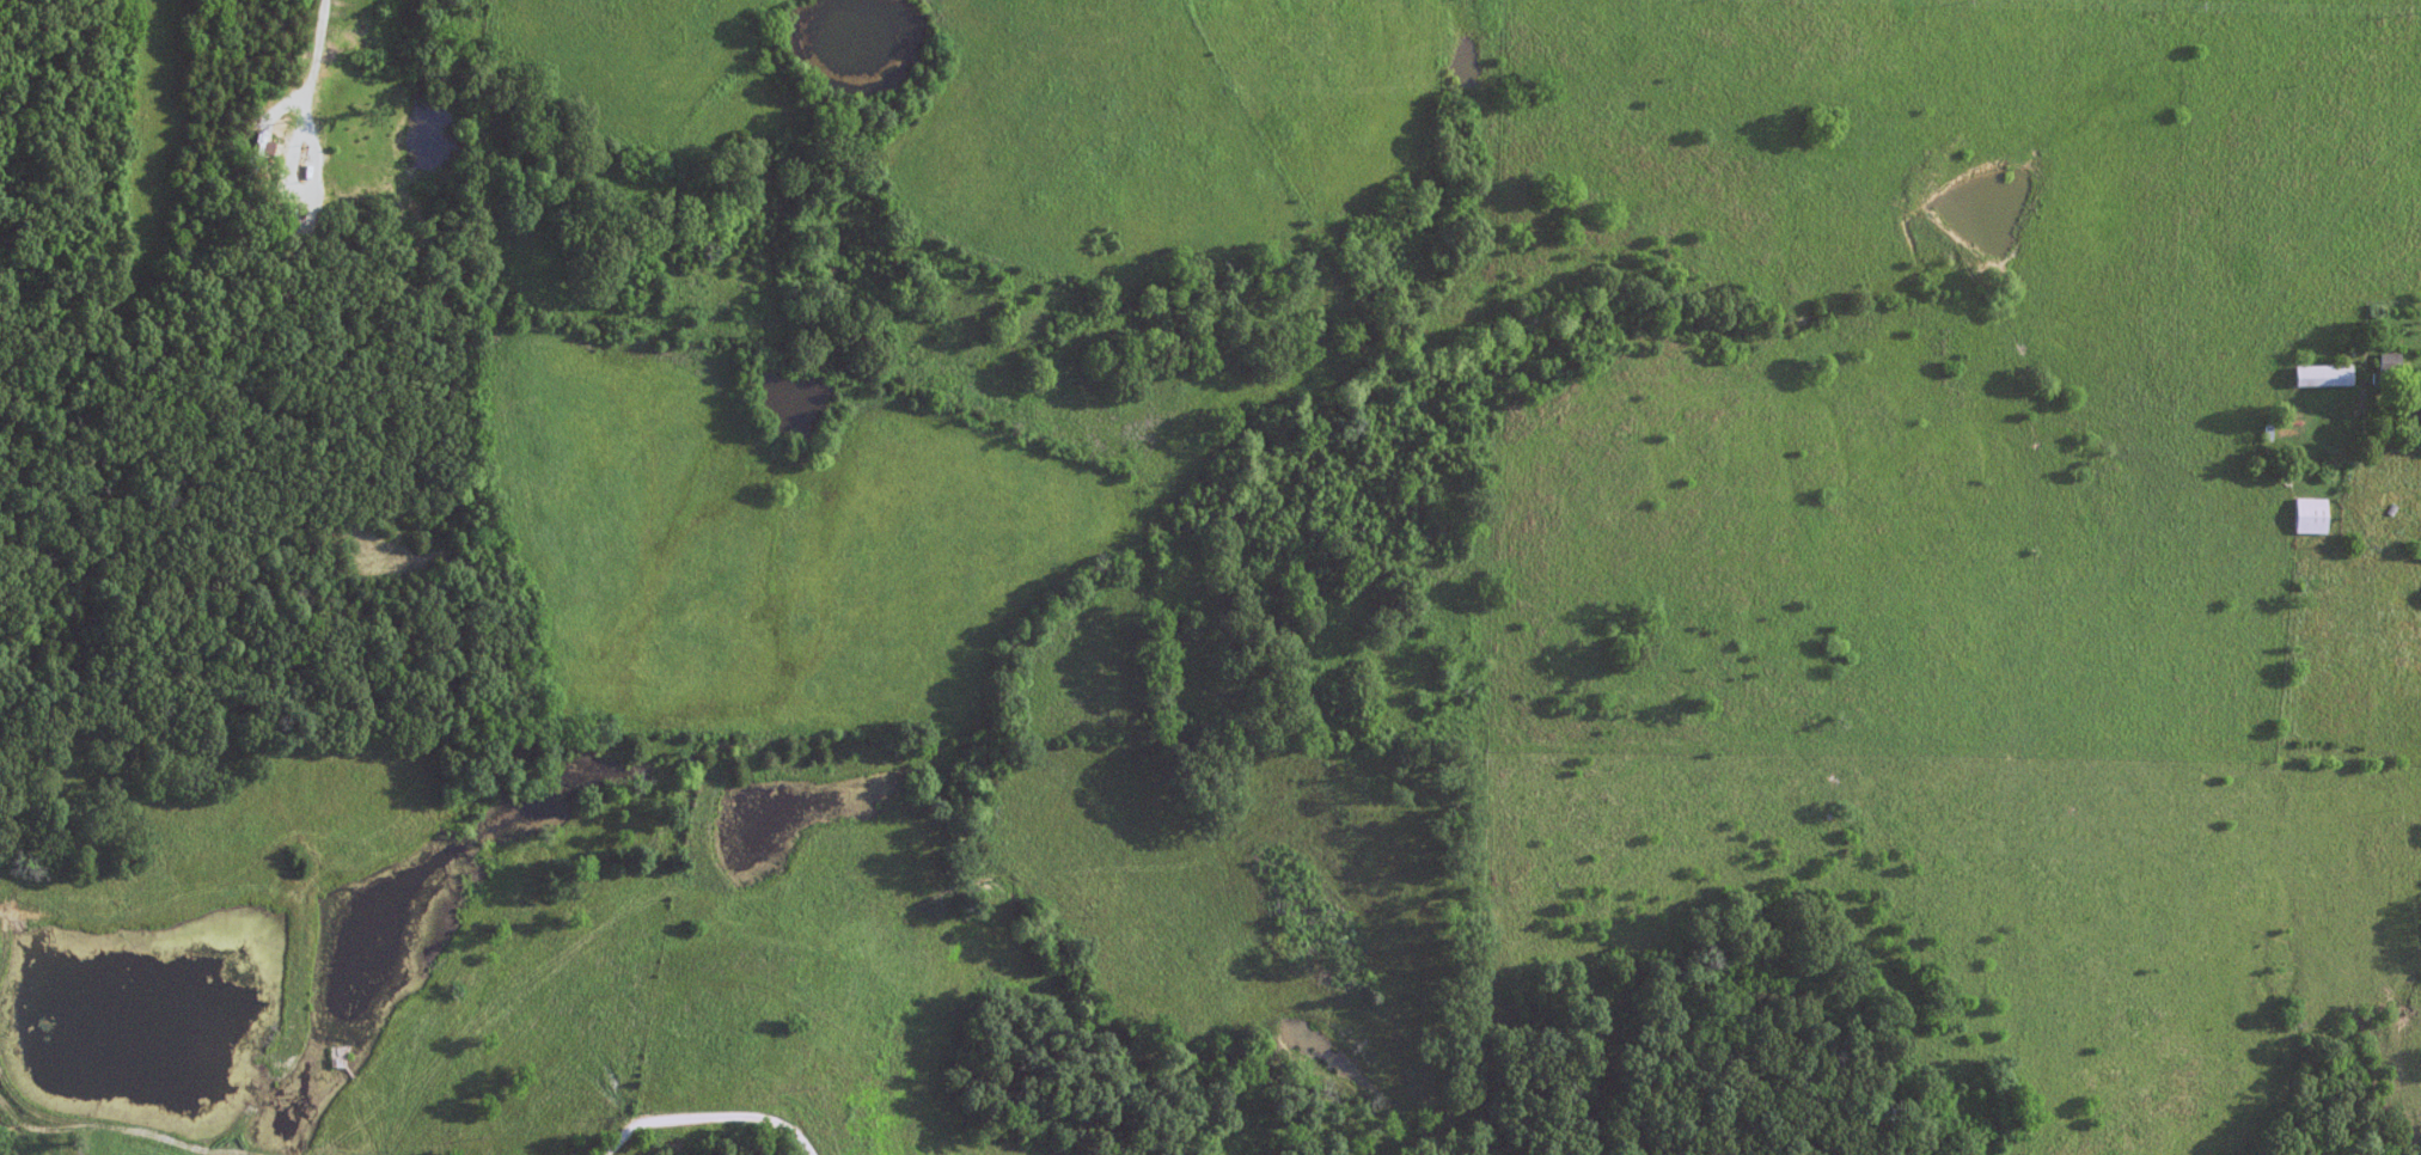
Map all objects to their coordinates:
building: (2390, 363)
building: (2325, 375)
building: (2414, 409)
building: (2312, 515)
road: (711, 1120)

